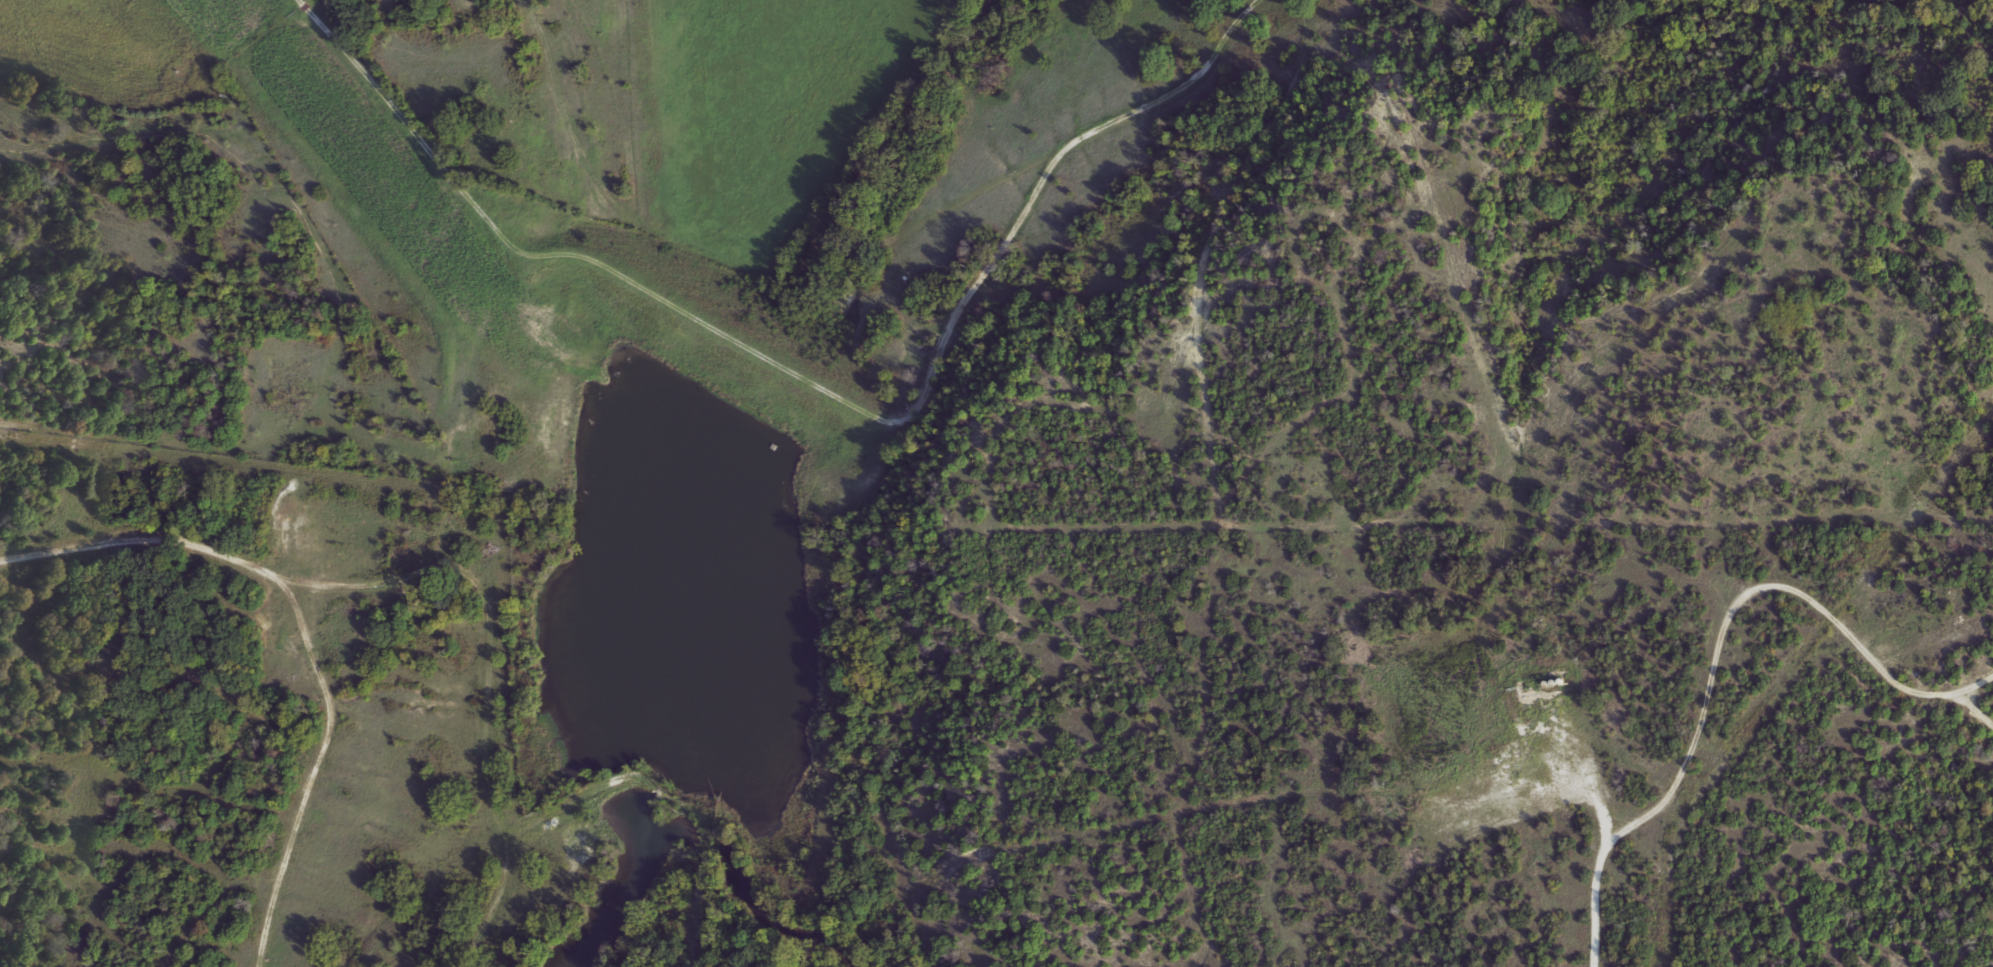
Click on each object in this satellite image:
road: (849, 247)
road: (715, 324)
road: (147, 540)
road: (363, 582)
road: (1489, 598)
road: (1965, 692)
road: (486, 758)
road: (1675, 771)
road: (311, 774)
road: (1599, 793)

